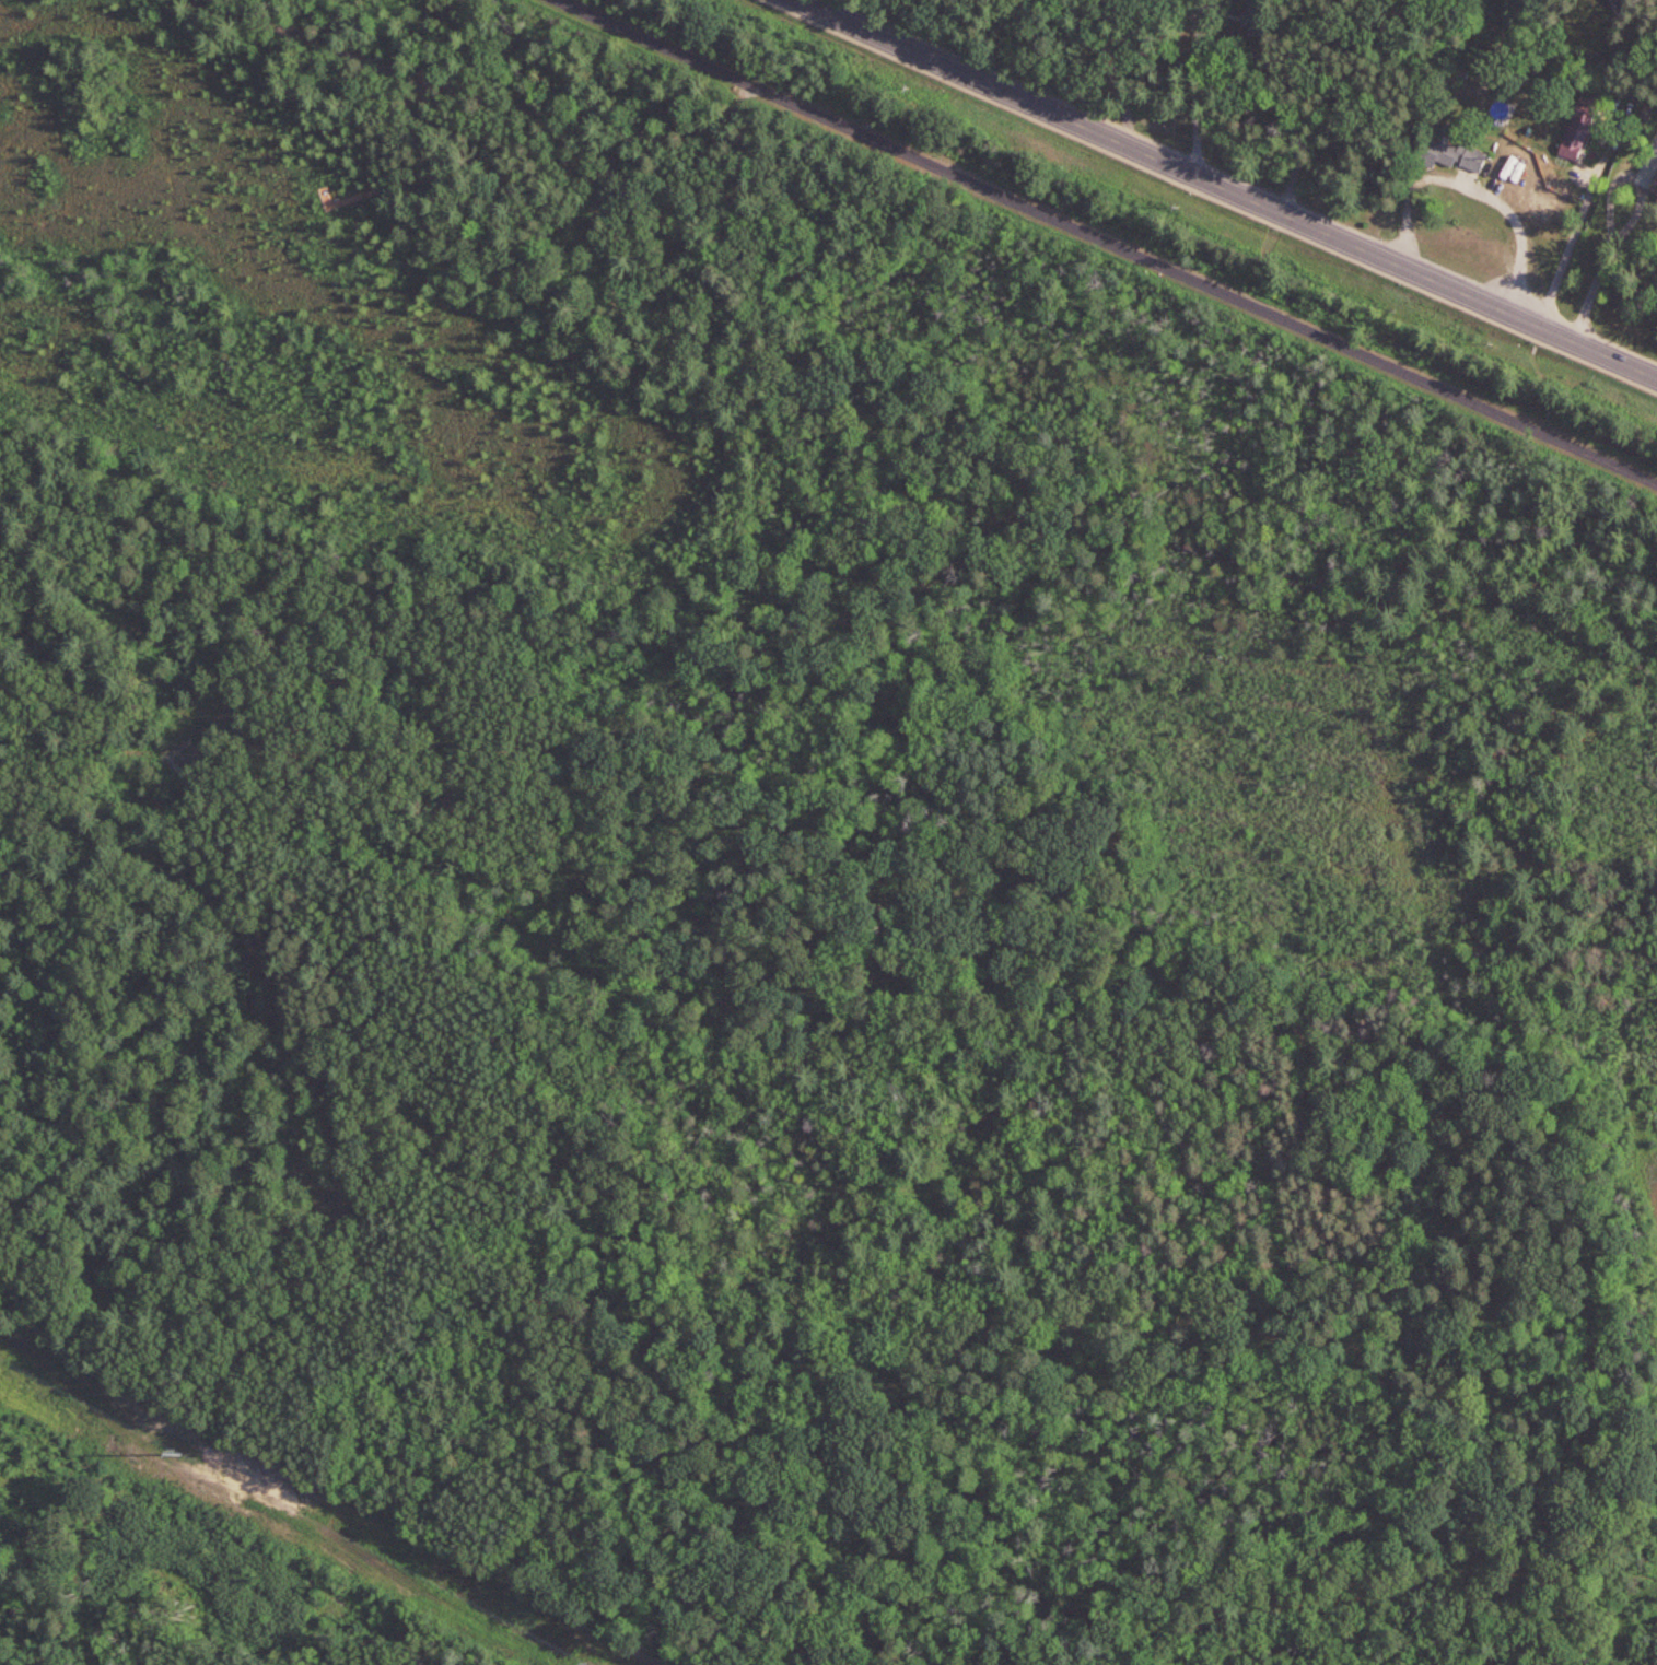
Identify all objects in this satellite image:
building: (1620, 3)
road: (1199, 89)
road: (502, 105)
building: (1583, 132)
building: (1450, 150)
building: (1520, 169)
road: (410, 175)
building: (1655, 187)
road: (1226, 191)
road: (1105, 243)
road: (1566, 257)
power tower: (172, 1449)
power tower: (587, 1664)

